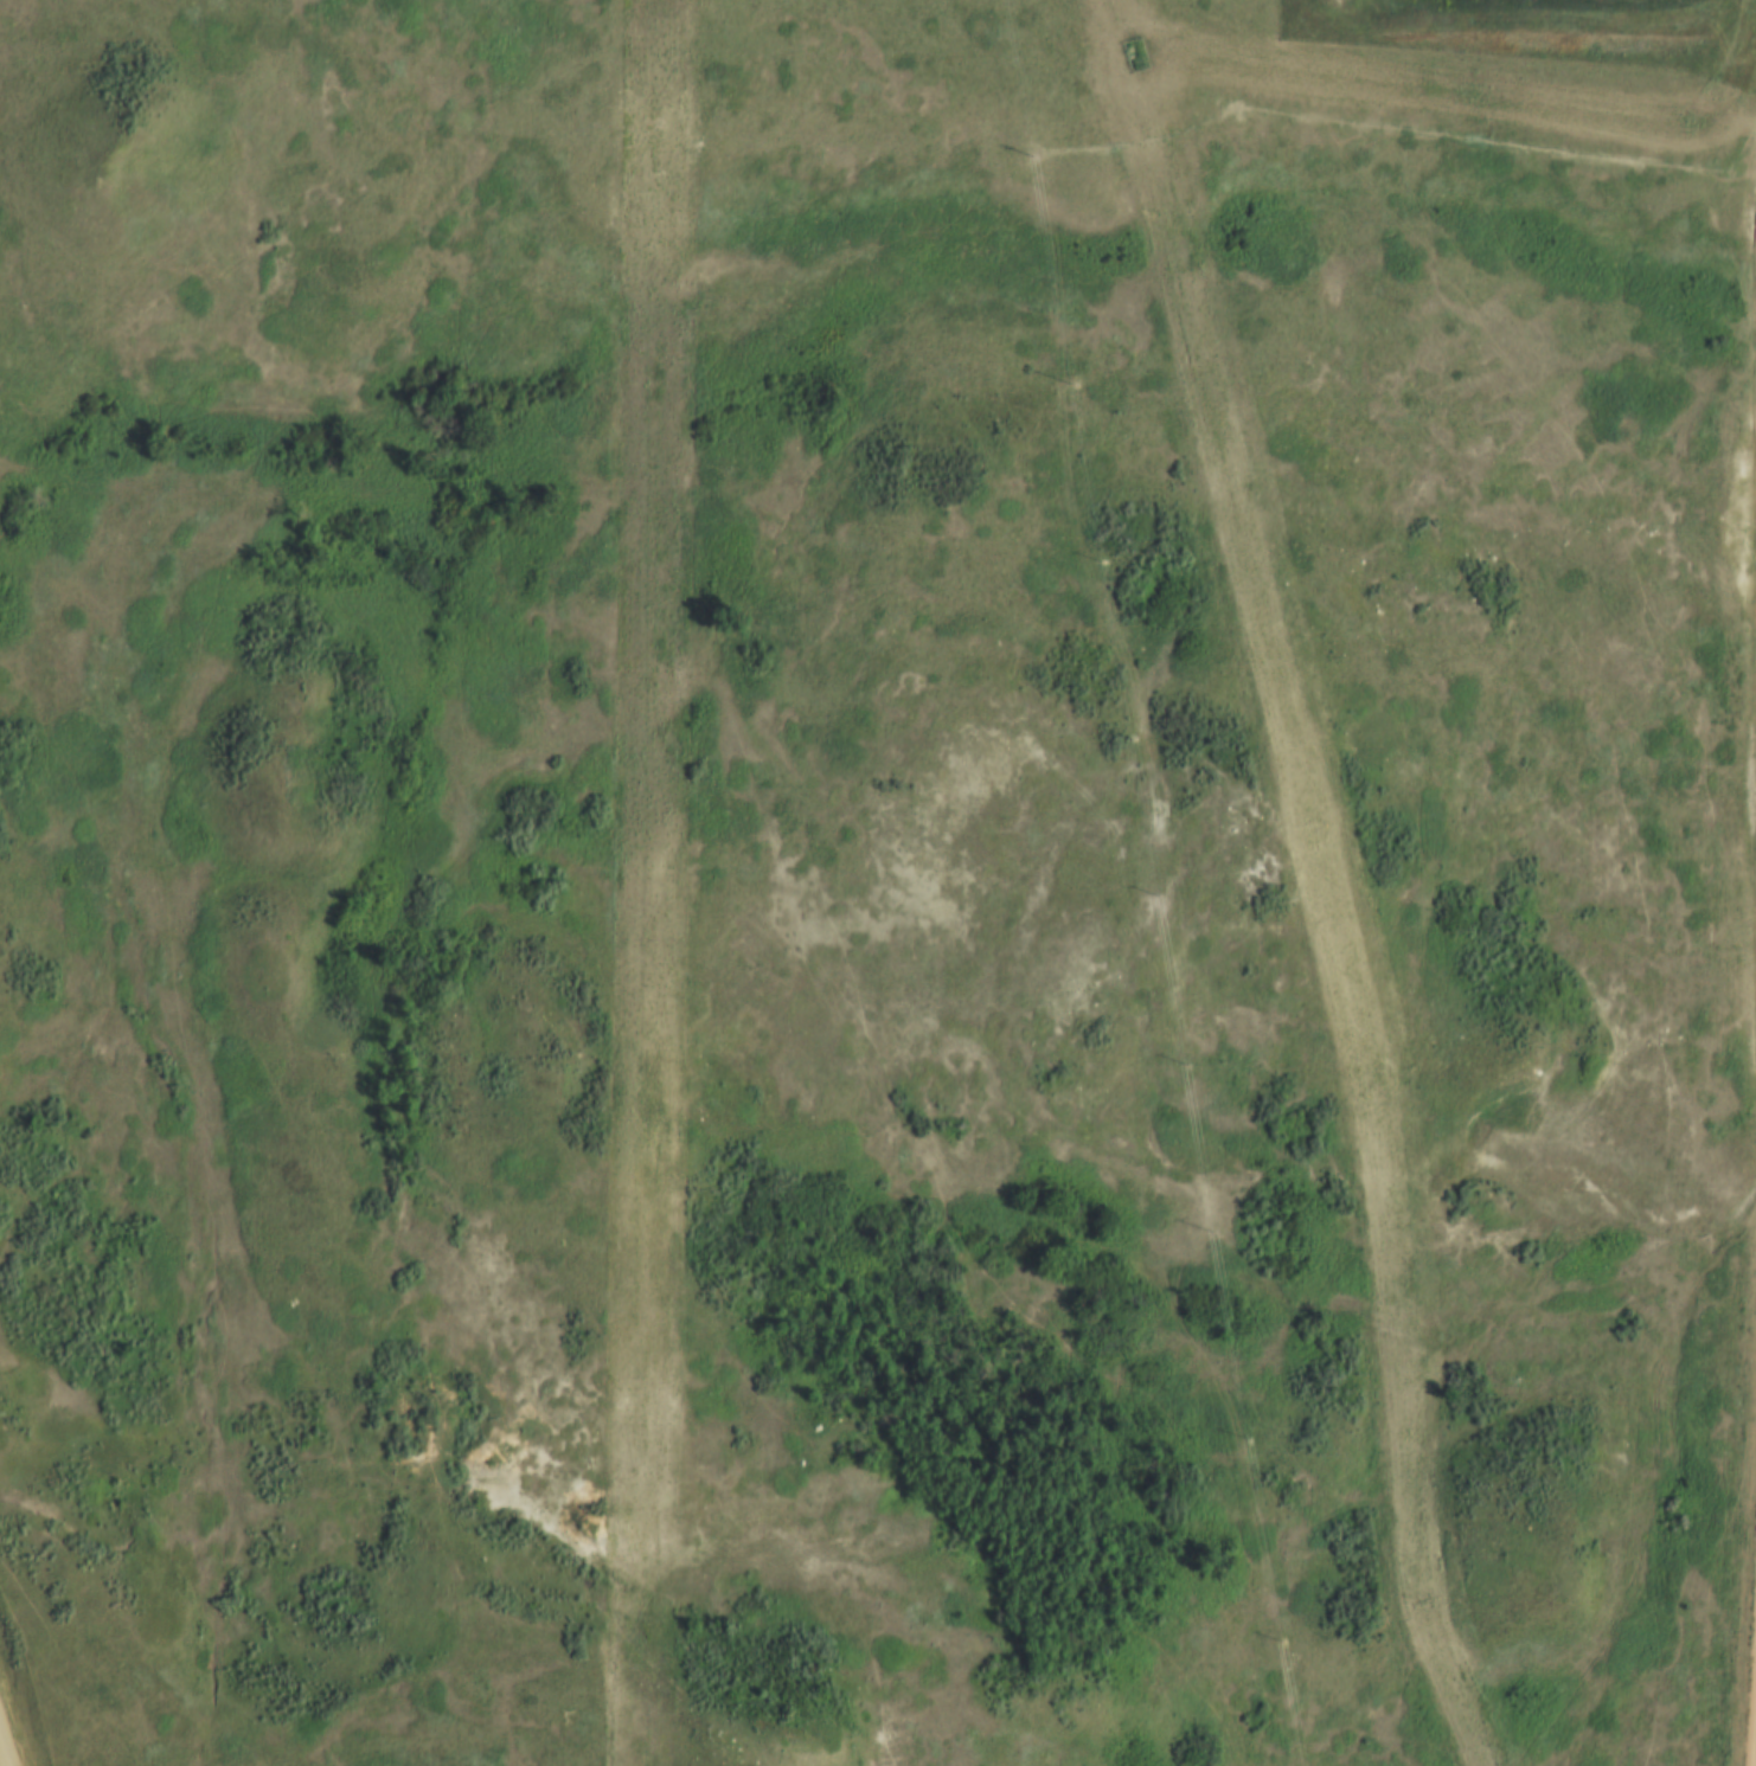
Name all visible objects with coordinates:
road: (1748, 1698)
road: (0, 1765)

